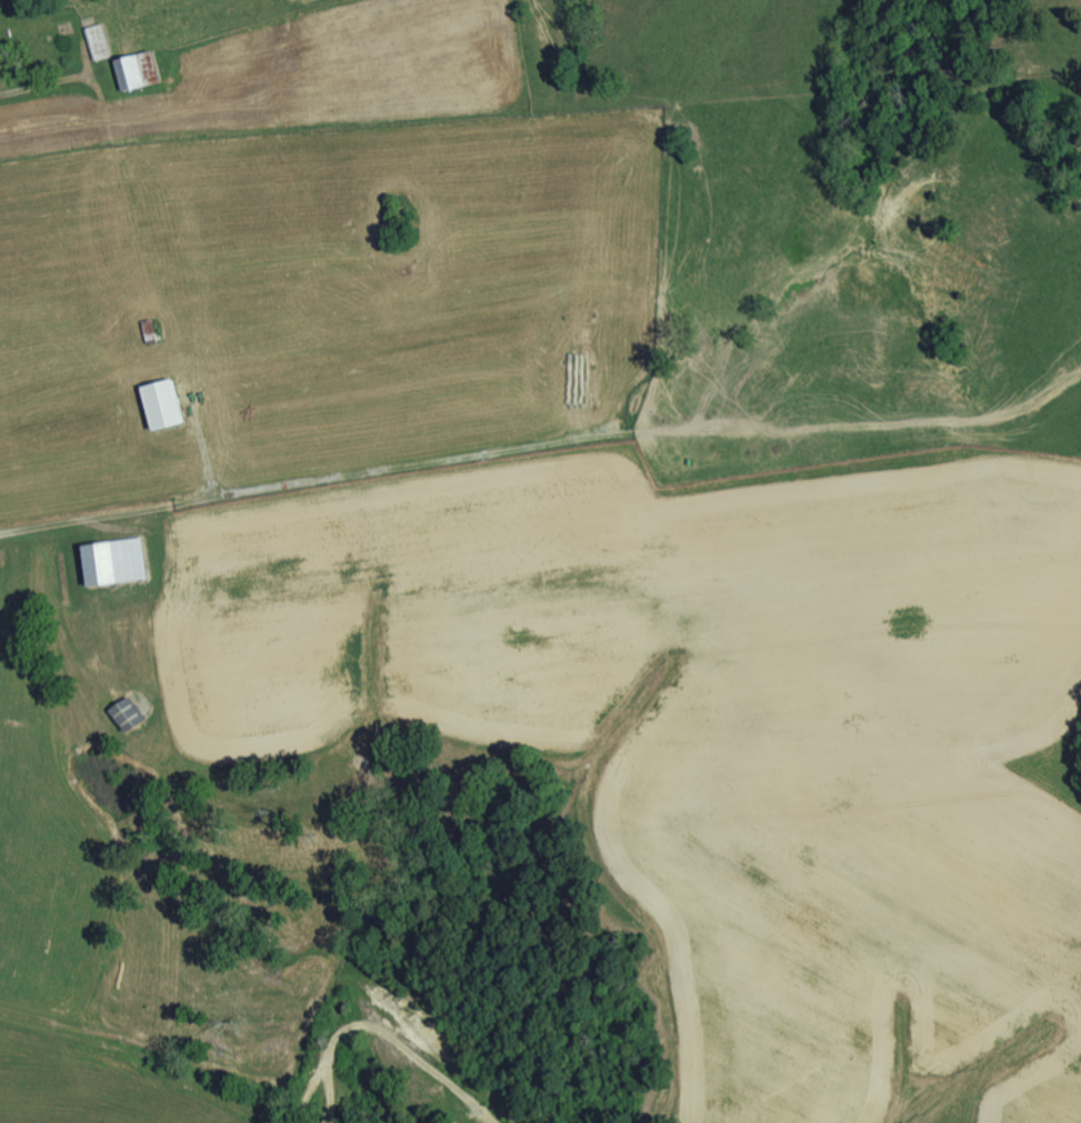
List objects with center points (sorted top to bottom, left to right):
building: (99, 41)
building: (138, 69)
road: (2, 90)
building: (162, 403)
building: (114, 561)
building: (127, 713)

